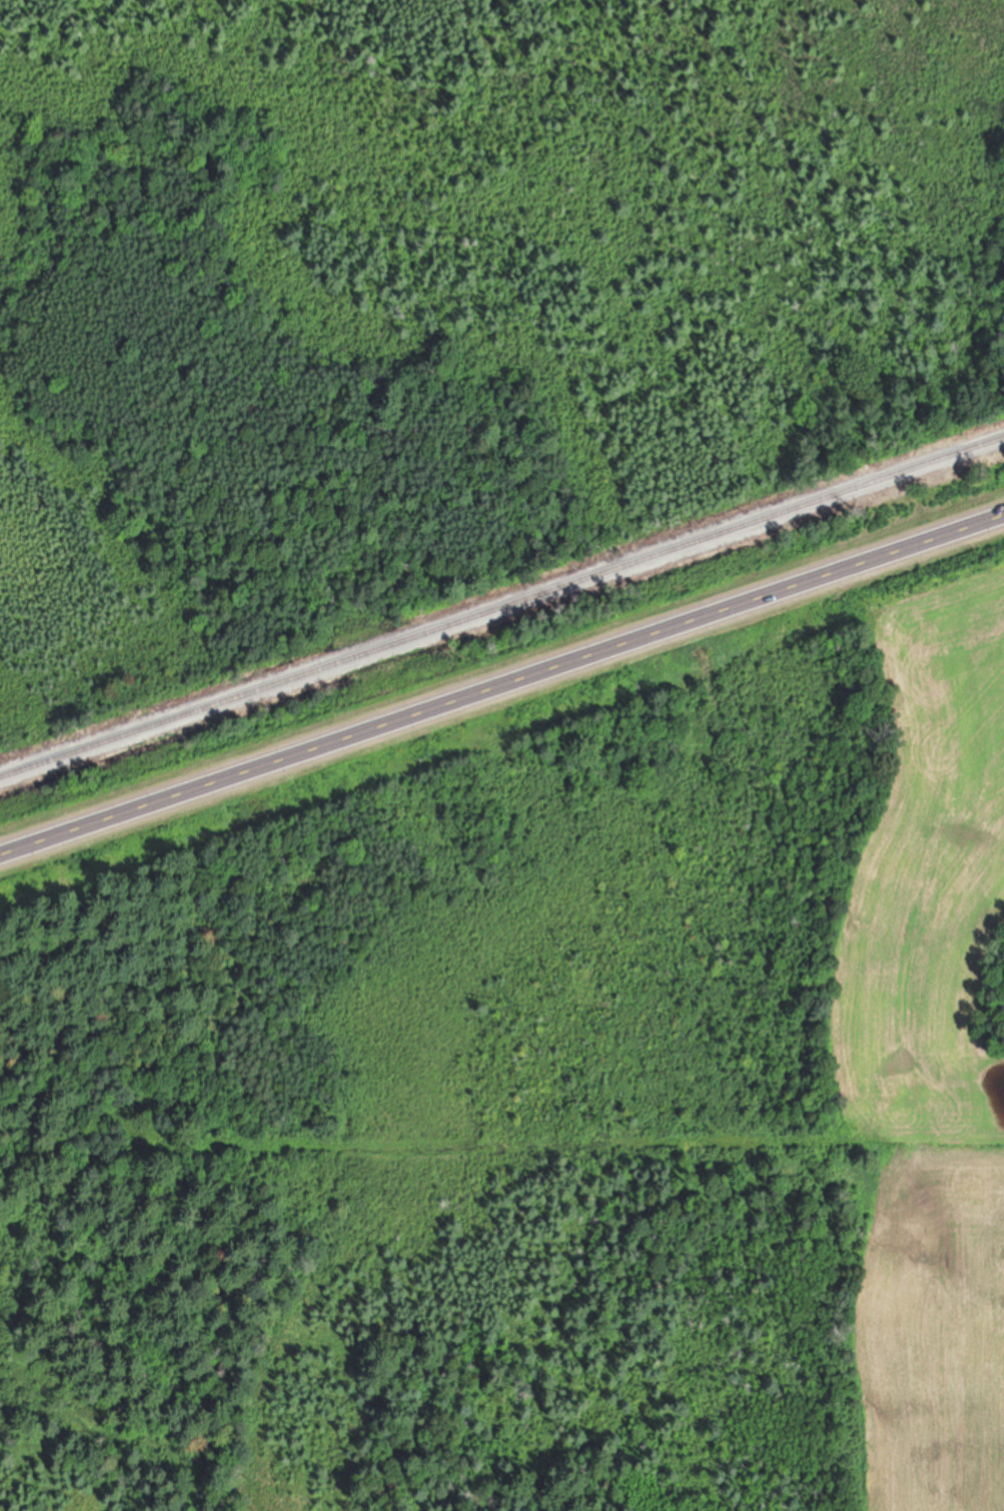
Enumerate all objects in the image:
railway: (502, 603)
road: (502, 682)

